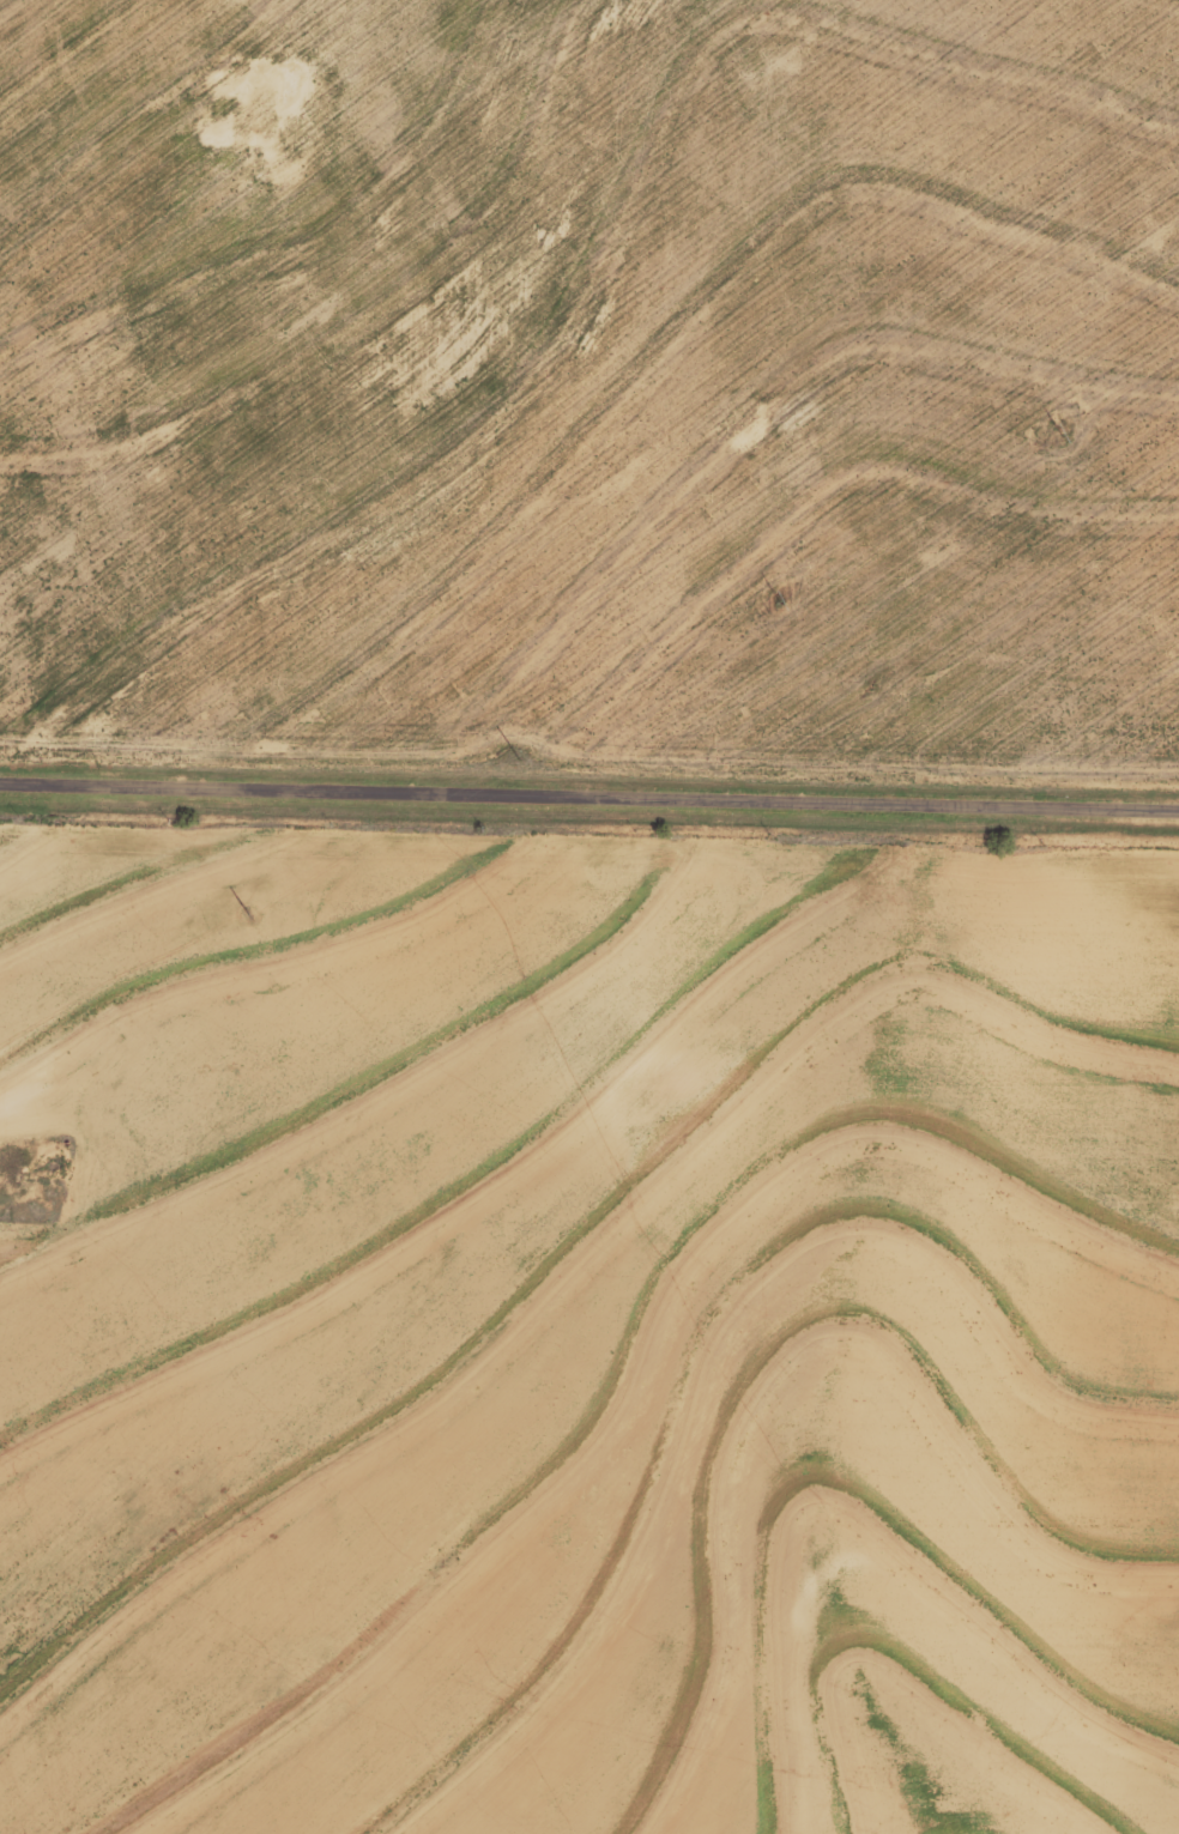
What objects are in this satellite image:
power tower: (1060, 437)
road: (68, 474)
power tower: (774, 603)
power tower: (514, 759)
road: (588, 795)
power tower: (246, 914)
road: (866, 1588)

